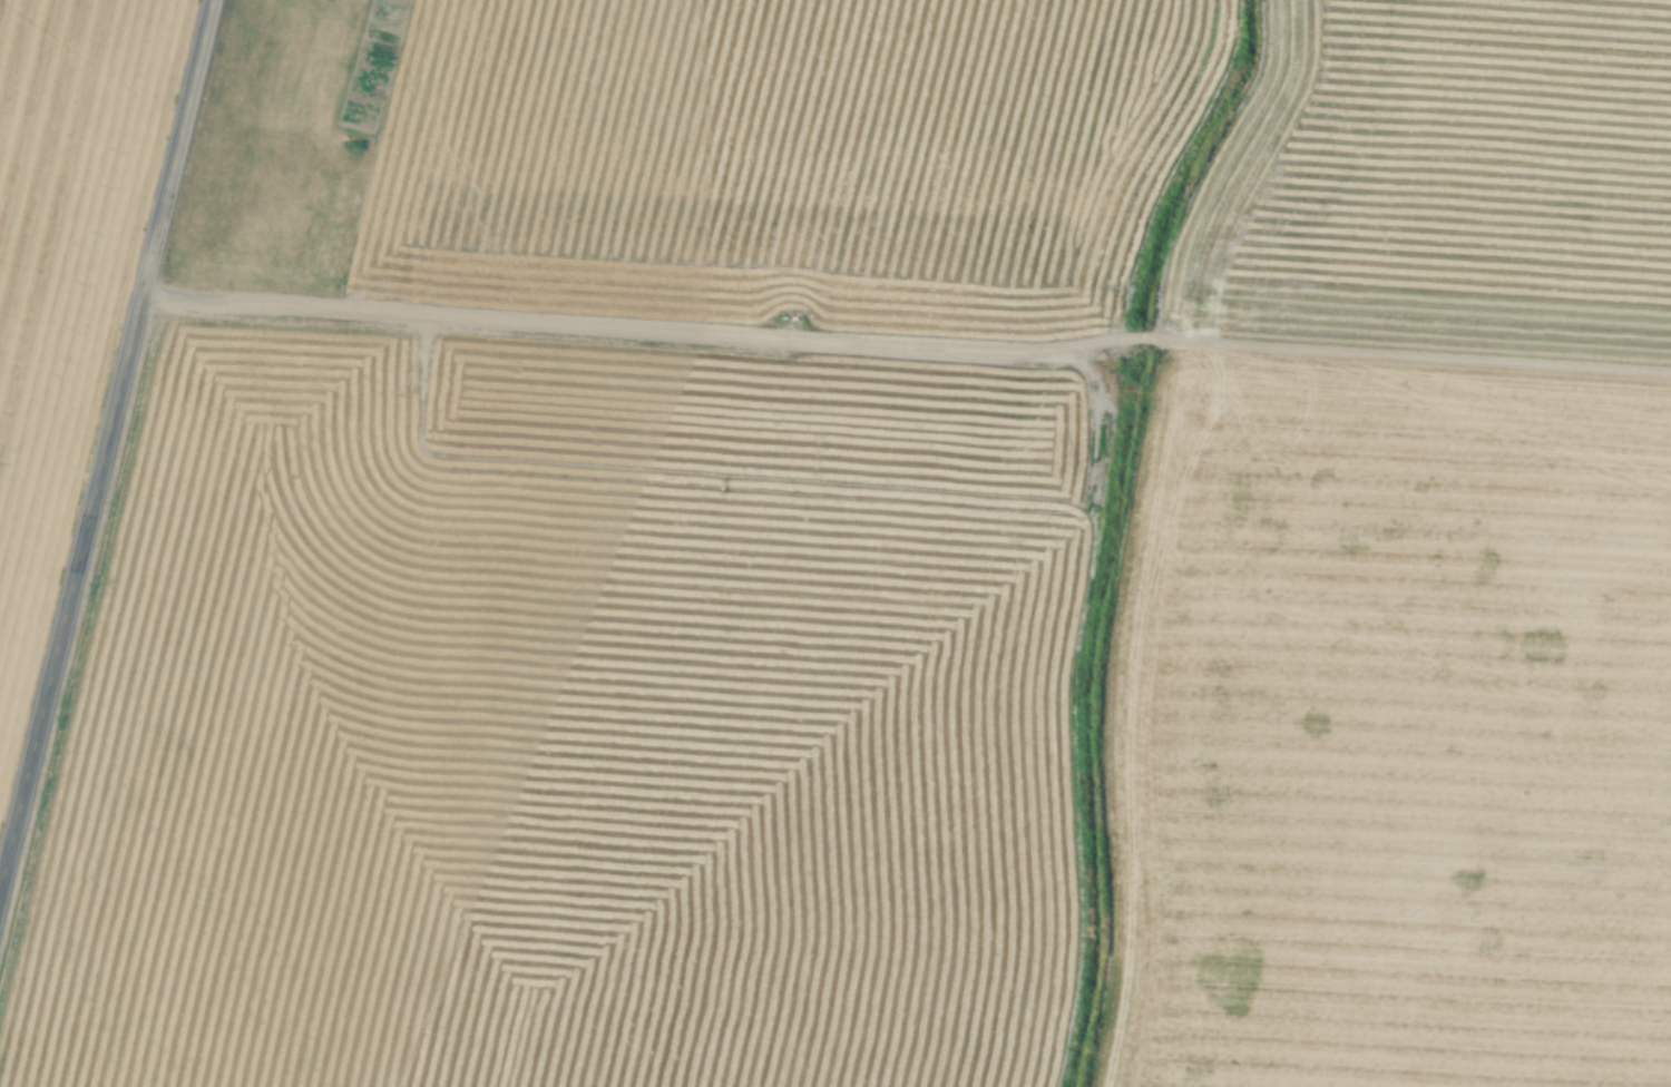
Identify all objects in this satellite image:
crop: (775, 157)
crop: (1443, 177)
crop: (63, 267)
road: (907, 342)
road: (106, 434)
crop: (1390, 717)
crop: (534, 763)

